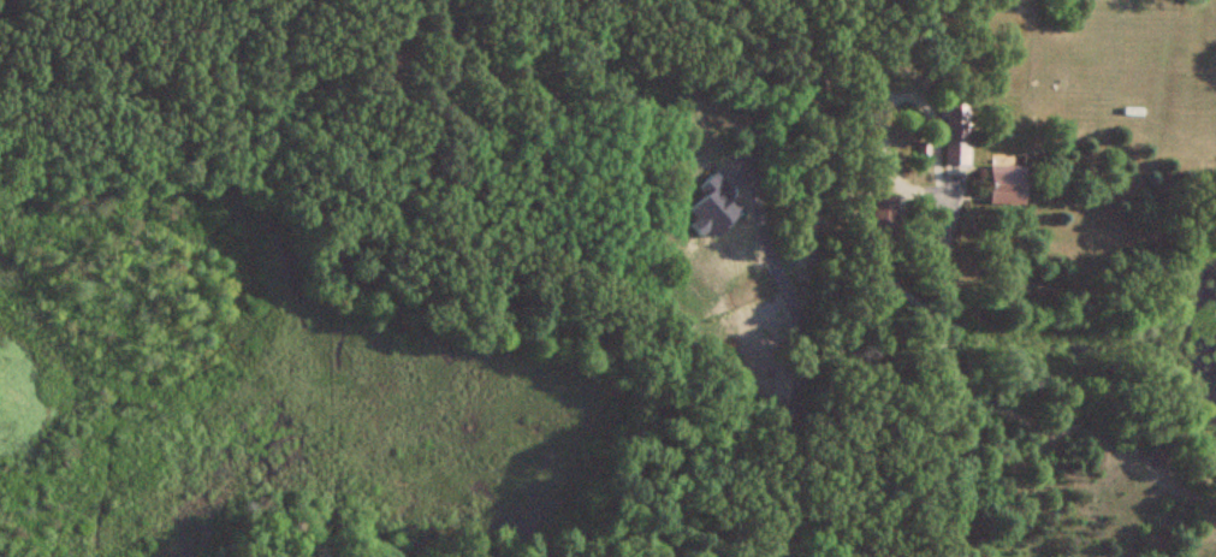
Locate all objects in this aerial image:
building: (959, 141)
building: (1008, 185)
building: (885, 214)
road: (943, 375)

